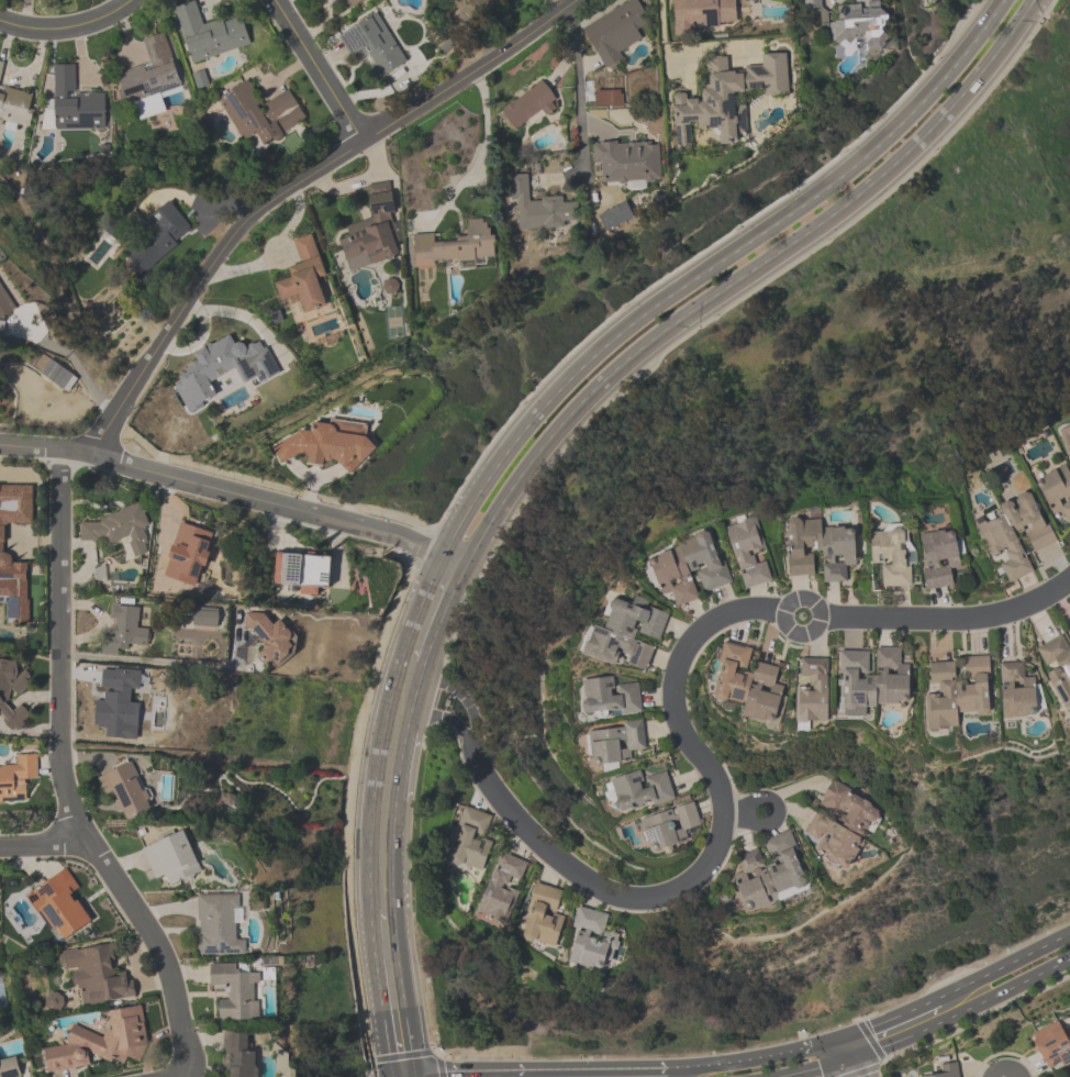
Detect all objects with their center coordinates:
building: (354, 3)
building: (811, 4)
building: (703, 14)
building: (860, 25)
road: (660, 27)
road: (69, 30)
building: (615, 32)
building: (210, 34)
building: (372, 46)
building: (1, 68)
road: (317, 70)
road: (577, 78)
building: (152, 79)
building: (609, 99)
building: (726, 99)
building: (76, 103)
building: (530, 107)
building: (16, 108)
building: (260, 114)
road: (482, 148)
building: (628, 164)
building: (539, 209)
road: (257, 212)
building: (374, 232)
building: (158, 240)
building: (457, 247)
road: (714, 268)
road: (743, 279)
building: (306, 280)
building: (4, 309)
road: (71, 359)
building: (227, 367)
building: (58, 375)
building: (1067, 443)
building: (327, 445)
building: (1056, 491)
road: (270, 504)
building: (119, 530)
building: (1016, 531)
building: (820, 549)
building: (181, 551)
building: (748, 551)
building: (891, 557)
road: (88, 558)
building: (939, 558)
building: (13, 567)
building: (689, 569)
building: (303, 571)
road: (430, 609)
road: (951, 619)
road: (100, 622)
road: (783, 625)
building: (124, 631)
building: (627, 636)
building: (270, 639)
road: (161, 662)
building: (1057, 666)
road: (409, 667)
building: (873, 679)
road: (430, 681)
road: (404, 684)
building: (748, 685)
building: (813, 692)
building: (957, 692)
building: (1018, 692)
building: (4, 698)
building: (609, 699)
building: (119, 700)
road: (421, 703)
road: (471, 710)
road: (455, 724)
building: (614, 745)
road: (391, 746)
building: (16, 779)
road: (62, 780)
building: (126, 789)
building: (639, 791)
road: (779, 813)
building: (840, 825)
building: (669, 828)
road: (40, 841)
building: (472, 841)
road: (382, 854)
building: (172, 858)
road: (714, 858)
building: (769, 874)
building: (502, 888)
building: (60, 904)
building: (543, 917)
building: (220, 924)
building: (591, 939)
road: (1004, 968)
building: (97, 975)
road: (1036, 977)
building: (236, 991)
road: (391, 991)
building: (54, 1002)
road: (889, 1019)
road: (926, 1028)
traffic signals: (869, 1029)
building: (102, 1043)
road: (824, 1043)
building: (1054, 1044)
road: (845, 1047)
traffic signals: (400, 1052)
road: (414, 1054)
building: (237, 1055)
road: (737, 1062)
road: (860, 1066)
building: (10, 1067)
road: (848, 1067)
road: (816, 1068)
traffic signals: (818, 1068)
road: (534, 1069)
building: (948, 1070)
traffic signals: (445, 1073)
traffic signals: (869, 1074)
road: (402, 1075)

